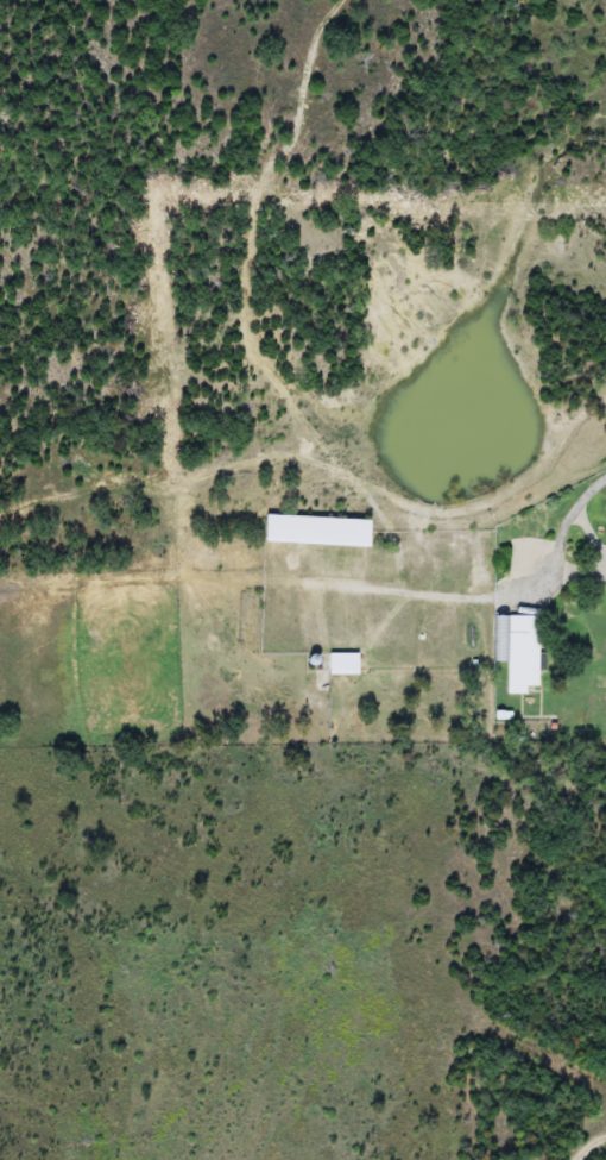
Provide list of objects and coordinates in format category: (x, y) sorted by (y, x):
building: (318, 531)
road: (522, 595)
building: (516, 651)
building: (343, 664)

